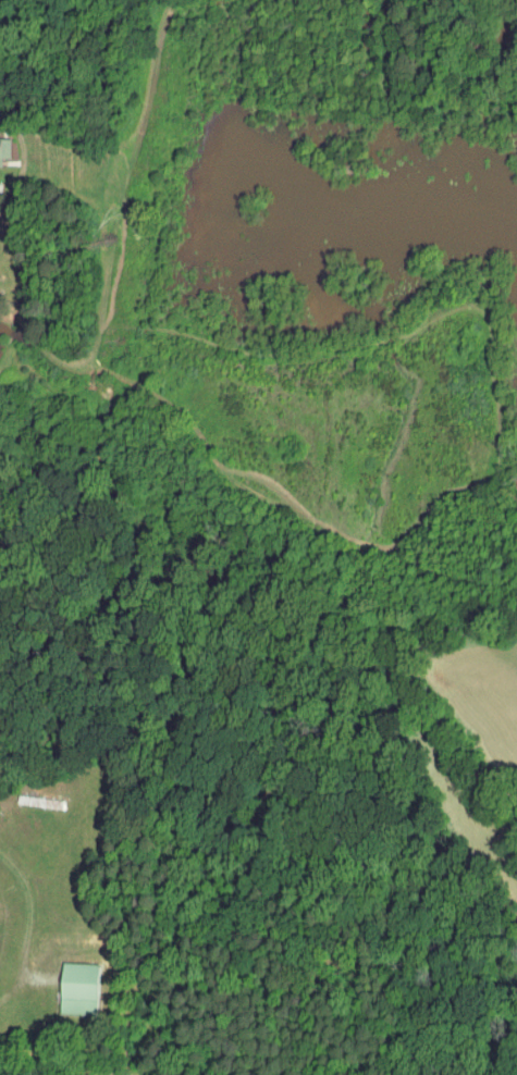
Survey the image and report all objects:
road: (0, 113)
building: (5, 148)
building: (81, 988)

